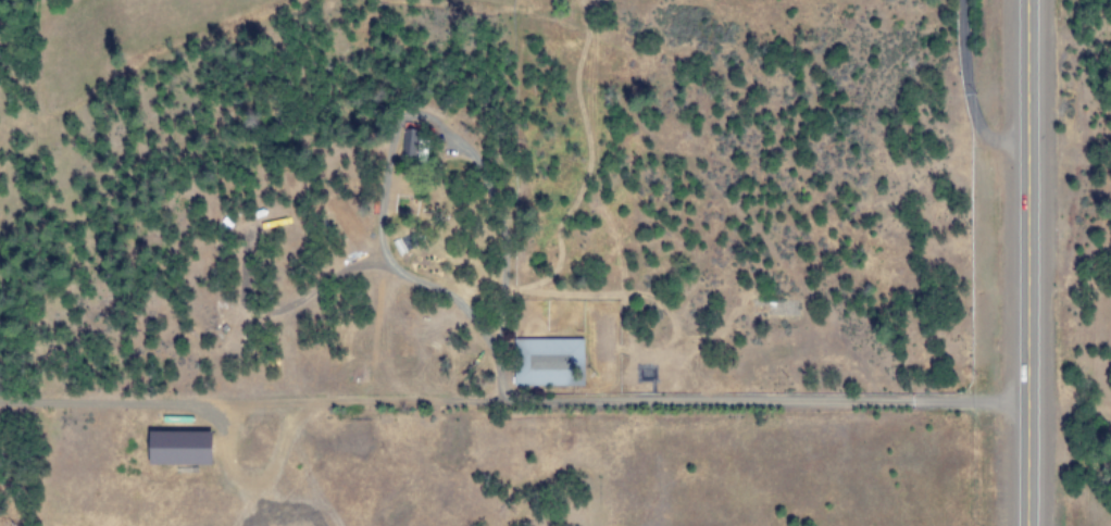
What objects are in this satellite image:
road: (968, 90)
road: (1026, 262)
building: (548, 362)
road: (636, 400)
building: (176, 448)

